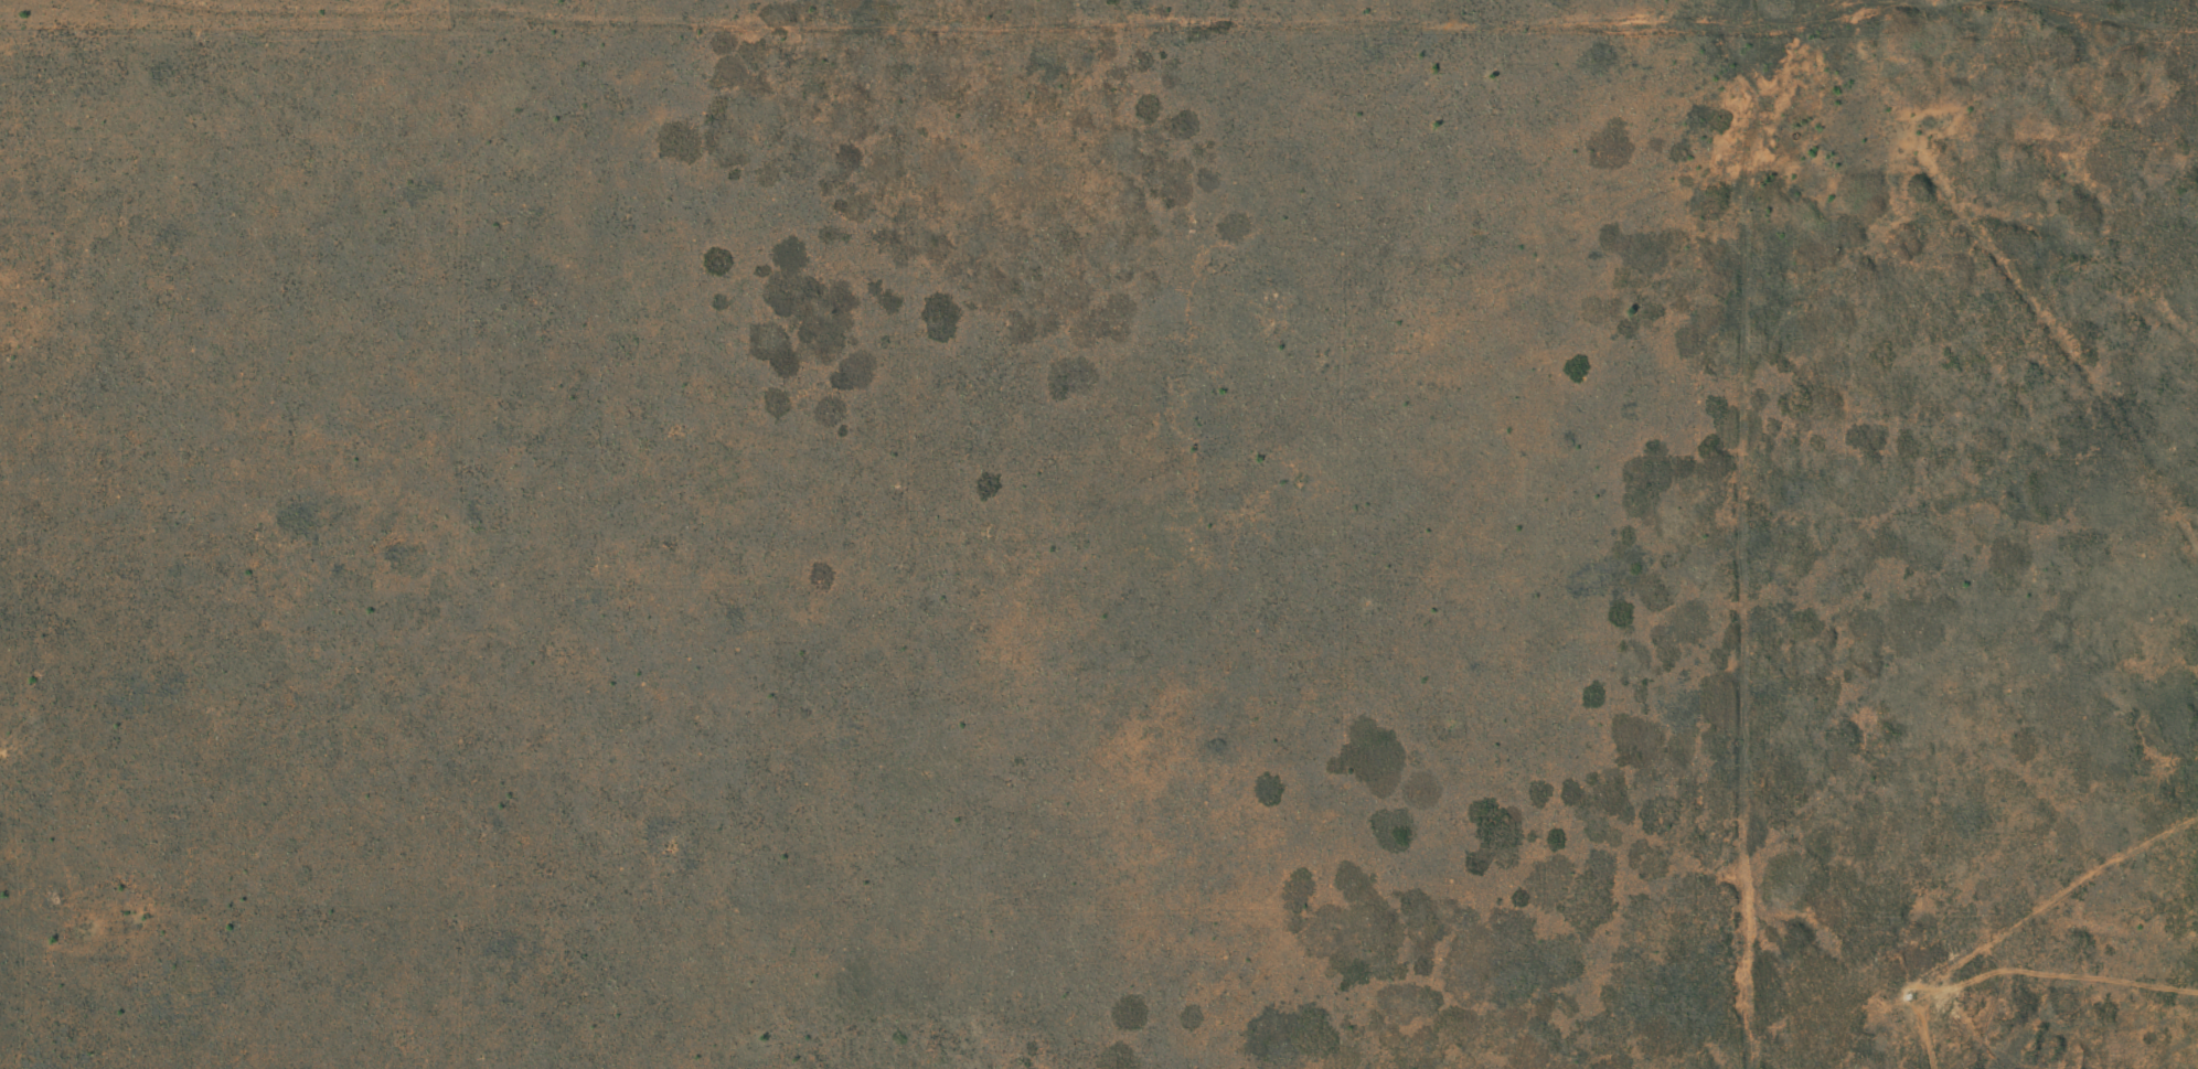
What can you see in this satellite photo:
road: (1784, 9)
road: (1098, 15)

